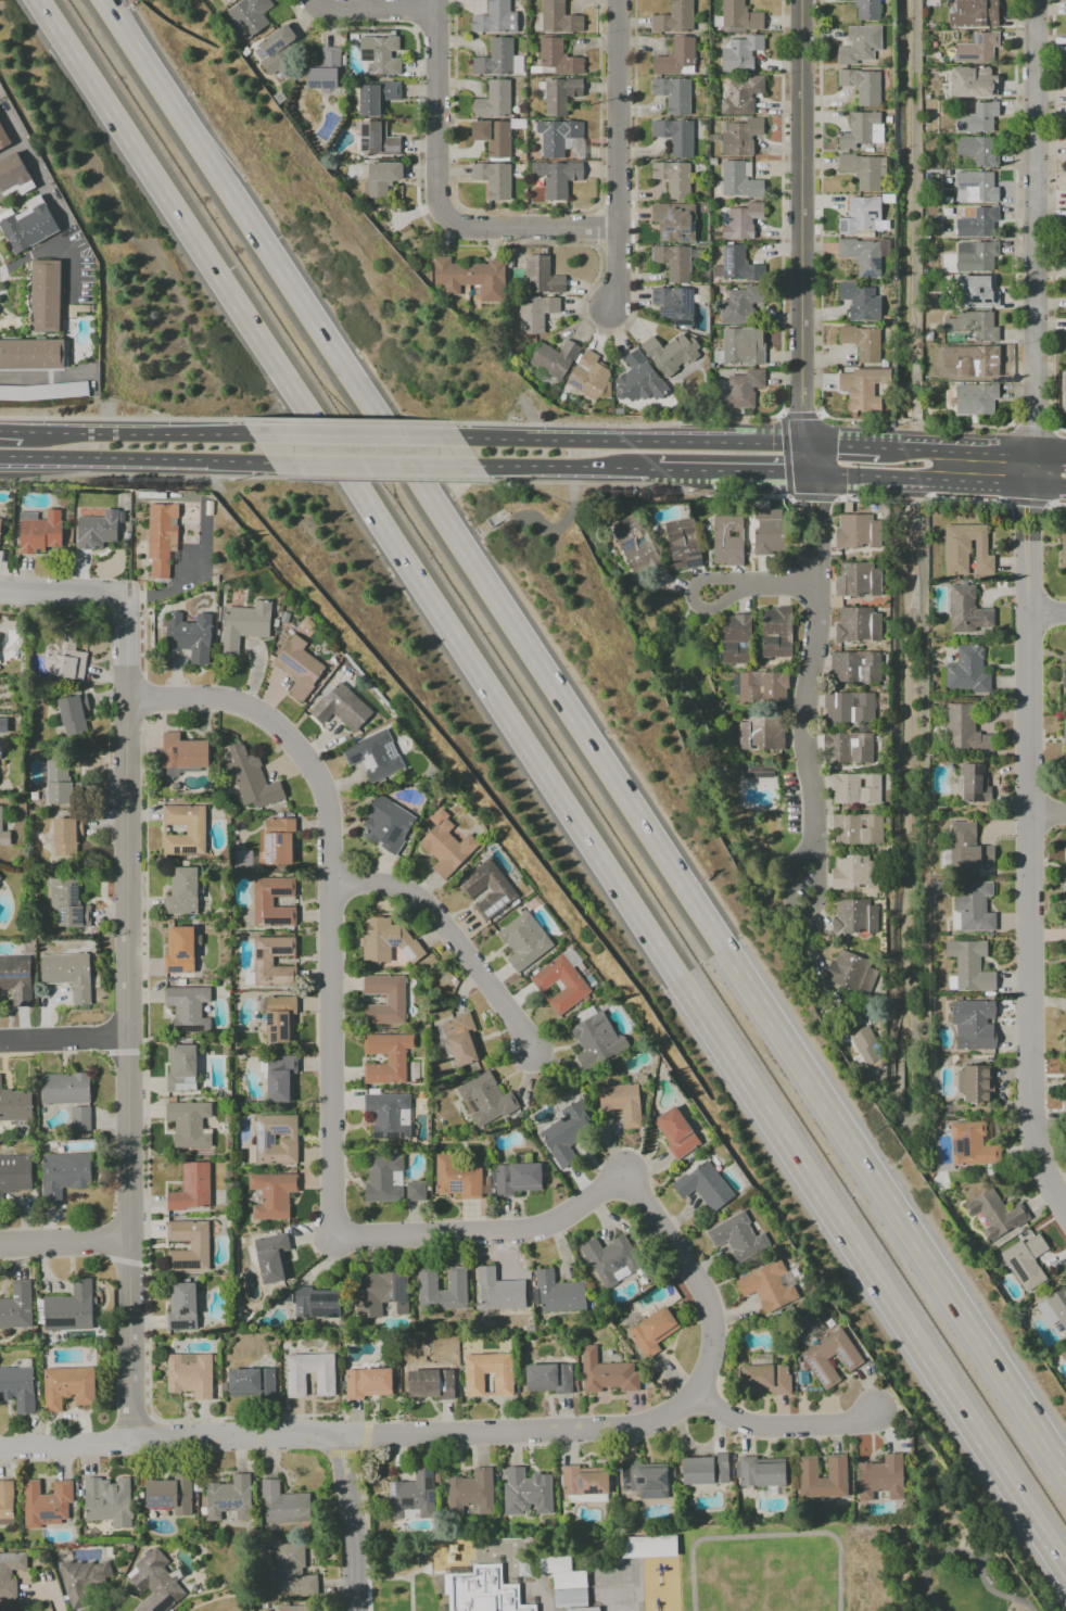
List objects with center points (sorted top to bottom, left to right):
building: (229, 0)
building: (231, 0)
road: (436, 4)
road: (109, 8)
road: (375, 9)
building: (868, 10)
building: (975, 13)
road: (415, 15)
building: (251, 16)
building: (495, 17)
building: (559, 17)
building: (675, 17)
building: (738, 17)
building: (861, 46)
building: (978, 49)
rooftop solar panel: (271, 50)
building: (278, 52)
building: (740, 53)
rooftop solar panel: (259, 54)
rooftop solar panel: (367, 54)
building: (381, 54)
building: (557, 59)
building: (677, 59)
building: (498, 60)
building: (327, 73)
building: (974, 83)
building: (862, 85)
building: (559, 94)
building: (674, 94)
building: (377, 96)
building: (743, 96)
building: (495, 101)
road: (437, 113)
building: (978, 118)
rooftop solar panel: (367, 129)
building: (862, 129)
building: (676, 136)
building: (3, 137)
building: (741, 137)
building: (560, 138)
rooftop solar panel: (373, 139)
building: (494, 139)
building: (378, 141)
rooftop solar panel: (368, 145)
rooftop solar panel: (394, 150)
building: (977, 152)
road: (618, 156)
building: (864, 170)
building: (13, 176)
building: (557, 177)
building: (382, 178)
building: (674, 178)
building: (494, 179)
building: (739, 181)
building: (976, 187)
road: (529, 210)
building: (864, 214)
road: (1053, 218)
building: (740, 220)
building: (675, 221)
building: (979, 223)
building: (28, 226)
road: (597, 227)
road: (531, 228)
rooftop solar panel: (688, 232)
rooftop solar panel: (665, 236)
road: (802, 237)
rooftop solar panel: (684, 239)
road: (1036, 242)
road: (569, 245)
building: (864, 254)
building: (976, 256)
building: (675, 261)
rooftop solar panel: (875, 263)
building: (737, 265)
rooftop solar panel: (866, 274)
building: (543, 276)
building: (472, 278)
road: (4, 282)
building: (977, 292)
building: (46, 296)
building: (932, 301)
building: (861, 302)
rooftop solar panel: (688, 303)
building: (741, 304)
building: (674, 305)
building: (78, 309)
building: (536, 313)
rooftop solar panel: (665, 315)
rooftop solar panel: (683, 322)
building: (974, 326)
building: (862, 342)
building: (741, 346)
building: (671, 353)
building: (33, 355)
building: (556, 358)
building: (979, 359)
building: (591, 378)
building: (639, 380)
road: (783, 383)
rooftop solar panel: (575, 384)
building: (864, 389)
building: (743, 390)
building: (1065, 390)
building: (45, 391)
building: (977, 398)
traffic signals: (803, 409)
road: (129, 418)
road: (344, 420)
road: (921, 423)
road: (1035, 424)
road: (11, 431)
road: (145, 432)
road: (784, 433)
road: (354, 434)
road: (622, 440)
traffic signals: (838, 446)
road: (842, 446)
road: (956, 453)
road: (1049, 457)
road: (144, 461)
road: (373, 464)
road: (557, 466)
road: (683, 469)
road: (760, 470)
traffic signals: (785, 471)
road: (149, 474)
road: (888, 477)
road: (383, 479)
road: (998, 482)
road: (629, 483)
road: (1048, 484)
road: (811, 497)
road: (919, 500)
road: (1027, 502)
traffic signals: (813, 504)
road: (1057, 504)
road: (562, 523)
building: (96, 530)
building: (769, 530)
building: (38, 531)
building: (854, 531)
building: (726, 540)
building: (682, 544)
rooftop solar panel: (627, 546)
building: (1063, 546)
building: (635, 548)
building: (966, 550)
rooftop solar panel: (693, 555)
rooftop solar panel: (693, 563)
building: (856, 581)
road: (760, 585)
road: (63, 593)
building: (967, 611)
road: (1045, 611)
building: (243, 624)
building: (856, 624)
building: (775, 632)
building: (188, 636)
building: (735, 638)
building: (63, 657)
rooftop solar panel: (290, 663)
building: (297, 667)
building: (854, 667)
building: (966, 671)
building: (1063, 677)
building: (761, 687)
road: (815, 687)
building: (853, 707)
building: (341, 708)
building: (73, 714)
building: (2, 725)
building: (963, 730)
building: (760, 733)
building: (1064, 740)
road: (589, 743)
building: (847, 748)
rooftop solar panel: (390, 750)
building: (182, 751)
building: (373, 756)
rooftop solar panel: (355, 761)
rooftop solar panel: (367, 763)
building: (757, 772)
building: (250, 778)
building: (55, 781)
building: (973, 783)
road: (549, 787)
building: (856, 788)
road: (1050, 814)
building: (386, 825)
building: (856, 828)
building: (194, 829)
building: (3, 835)
building: (65, 836)
rooftop solar panel: (393, 836)
rooftop solar panel: (277, 840)
building: (278, 841)
rooftop solar panel: (264, 842)
rooftop solar panel: (271, 843)
building: (444, 845)
building: (967, 848)
road: (1033, 851)
rooftop solar panel: (185, 852)
rooftop solar panel: (174, 853)
rooftop solar panel: (271, 855)
rooftop solar panel: (266, 860)
building: (848, 872)
building: (0, 876)
building: (1063, 876)
building: (485, 889)
building: (181, 892)
rooftop solar panel: (277, 892)
building: (262, 902)
building: (66, 903)
building: (972, 906)
building: (853, 916)
rooftop solar panel: (277, 922)
road: (446, 936)
building: (523, 940)
building: (388, 941)
rooftop solar panel: (393, 941)
building: (178, 949)
building: (1065, 949)
rooftop solar panel: (280, 952)
rooftop solar panel: (406, 955)
rooftop solar panel: (255, 956)
rooftop solar panel: (181, 957)
building: (262, 961)
building: (969, 965)
building: (845, 969)
rooftop solar panel: (173, 971)
building: (67, 974)
building: (15, 978)
building: (867, 979)
building: (559, 985)
building: (394, 1000)
building: (187, 1007)
rooftop solar panel: (267, 1018)
building: (279, 1018)
road: (125, 1019)
building: (973, 1024)
rooftop solar panel: (282, 1026)
rooftop solar panel: (274, 1029)
rooftop solar panel: (270, 1039)
building: (460, 1039)
building: (595, 1039)
building: (1065, 1040)
road: (63, 1041)
building: (865, 1045)
building: (386, 1057)
building: (181, 1068)
building: (1065, 1073)
building: (279, 1078)
rooftop solar panel: (188, 1081)
building: (974, 1083)
rooftop solar panel: (185, 1087)
building: (64, 1088)
building: (483, 1100)
building: (620, 1103)
building: (14, 1105)
building: (388, 1115)
building: (79, 1118)
building: (188, 1124)
rooftop solar panel: (257, 1127)
rooftop solar panel: (278, 1129)
building: (566, 1132)
building: (674, 1132)
rooftop solar panel: (401, 1136)
rooftop solar panel: (389, 1137)
rooftop solar panel: (268, 1139)
building: (275, 1139)
rooftop solar panel: (257, 1143)
building: (970, 1145)
rooftop solar panel: (962, 1146)
rooftop solar panel: (270, 1157)
rooftop solar panel: (282, 1158)
rooftop solar panel: (262, 1160)
road: (332, 1172)
building: (14, 1174)
building: (63, 1175)
building: (383, 1178)
building: (456, 1178)
building: (516, 1178)
building: (487, 1182)
building: (703, 1185)
building: (190, 1188)
rooftop solar panel: (454, 1188)
building: (415, 1191)
building: (271, 1194)
building: (994, 1214)
building: (737, 1238)
road: (63, 1243)
building: (198, 1245)
building: (270, 1257)
building: (611, 1259)
building: (1026, 1261)
rooftop solar panel: (182, 1265)
rooftop solar panel: (1015, 1269)
building: (455, 1279)
building: (766, 1286)
rooftop solar panel: (399, 1291)
building: (498, 1291)
building: (380, 1293)
building: (558, 1293)
rooftop solar panel: (323, 1298)
rooftop solar panel: (366, 1301)
rooftop solar panel: (510, 1302)
rooftop solar panel: (517, 1302)
building: (316, 1303)
rooftop solar panel: (494, 1303)
building: (181, 1305)
building: (16, 1306)
building: (69, 1308)
building: (1054, 1308)
rooftop solar panel: (183, 1312)
rooftop solar panel: (363, 1312)
rooftop solar panel: (56, 1322)
rooftop solar panel: (179, 1325)
building: (651, 1331)
building: (1064, 1354)
building: (815, 1356)
building: (605, 1373)
building: (189, 1374)
building: (547, 1378)
building: (764, 1379)
building: (250, 1383)
building: (367, 1383)
building: (430, 1383)
building: (323, 1384)
building: (473, 1384)
building: (66, 1386)
building: (17, 1387)
road: (749, 1430)
road: (317, 1436)
building: (836, 1467)
building: (703, 1470)
building: (760, 1472)
rooftop solar panel: (624, 1473)
building: (880, 1477)
rooftop solar panel: (664, 1479)
rooftop solar panel: (430, 1480)
building: (584, 1480)
rooftop solar panel: (640, 1480)
building: (644, 1480)
road: (938, 1485)
rooftop solar panel: (390, 1487)
rooftop solar panel: (624, 1487)
building: (470, 1492)
building: (525, 1492)
building: (169, 1495)
building: (411, 1495)
building: (228, 1498)
building: (107, 1500)
rooftop solar panel: (160, 1500)
rooftop solar panel: (406, 1500)
building: (5, 1502)
building: (45, 1504)
rooftop solar panel: (220, 1505)
building: (282, 1505)
road: (346, 1523)
building: (647, 1546)
park: (956, 1546)
road: (963, 1553)
building: (522, 1566)
building: (292, 1571)
building: (560, 1572)
track: (765, 1573)
building: (81, 1581)
building: (154, 1582)
building: (482, 1590)
building: (569, 1598)
building: (293, 1608)

